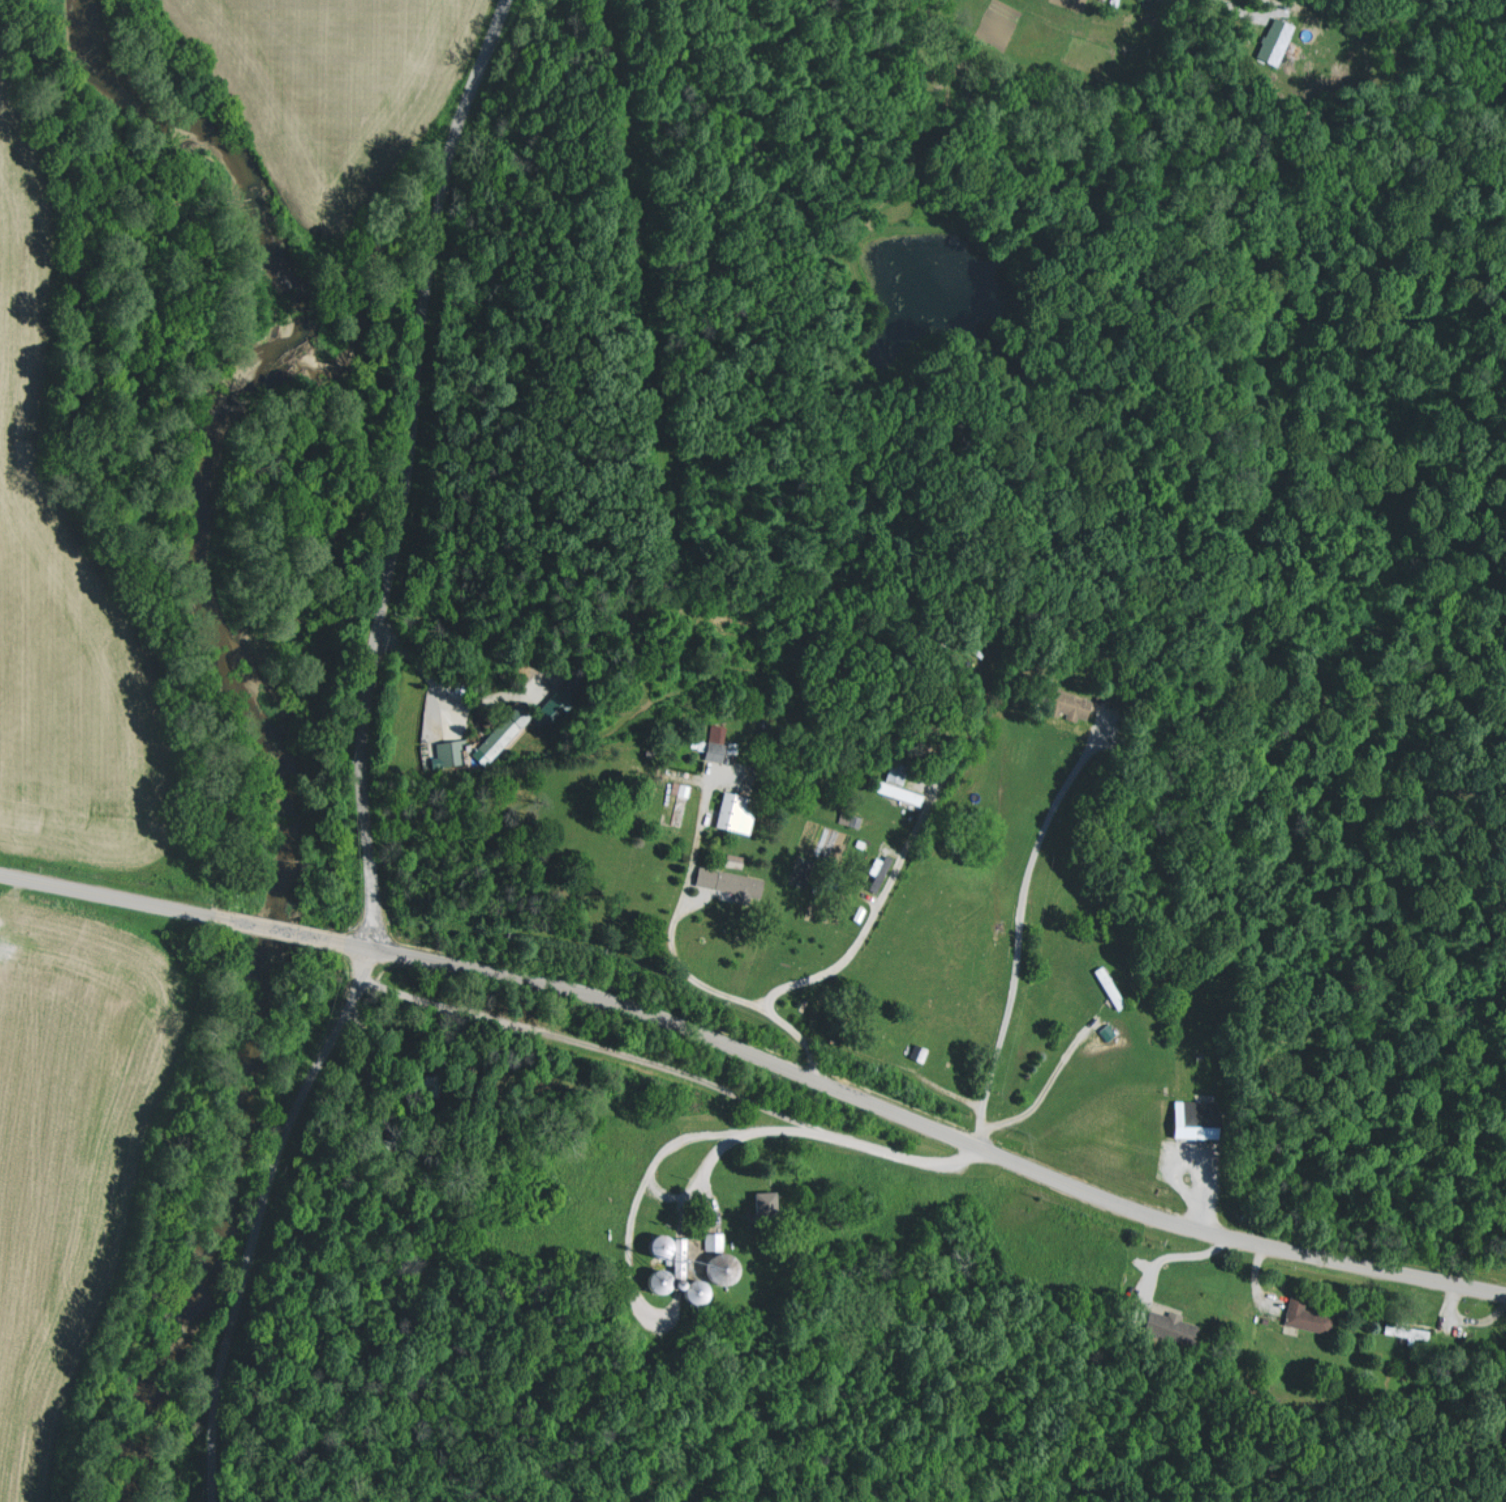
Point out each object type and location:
road: (1250, 17)
building: (1268, 43)
road: (396, 468)
building: (497, 740)
building: (445, 755)
building: (683, 789)
building: (740, 813)
building: (850, 817)
building: (734, 883)
road: (107, 895)
road: (270, 927)
road: (861, 930)
road: (1018, 933)
road: (339, 942)
road: (678, 959)
building: (1109, 1032)
road: (568, 1041)
road: (1044, 1088)
river: (264, 1090)
road: (926, 1127)
road: (724, 1131)
building: (773, 1203)
road: (242, 1216)
road: (608, 1255)
building: (686, 1264)
building: (1309, 1318)
building: (1175, 1327)

